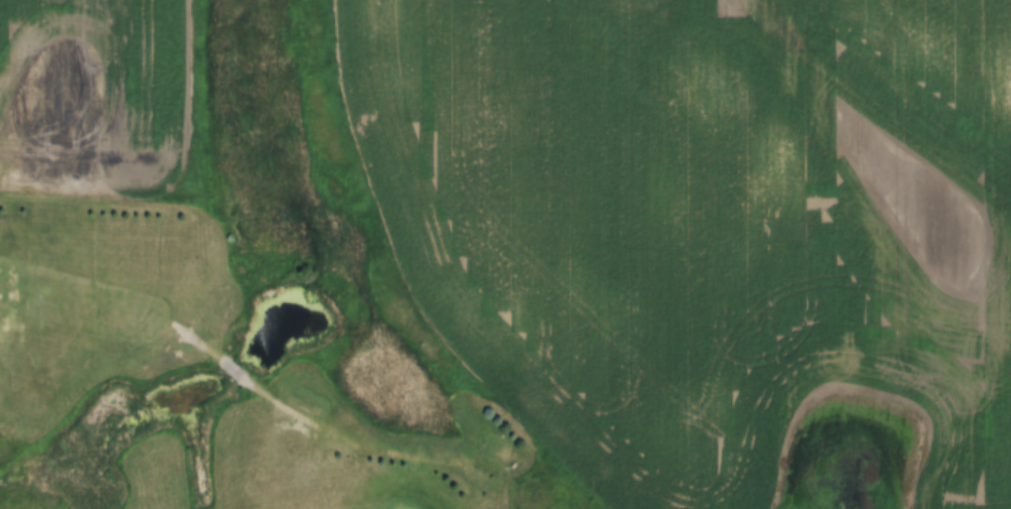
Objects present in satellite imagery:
park: (192, 386)

